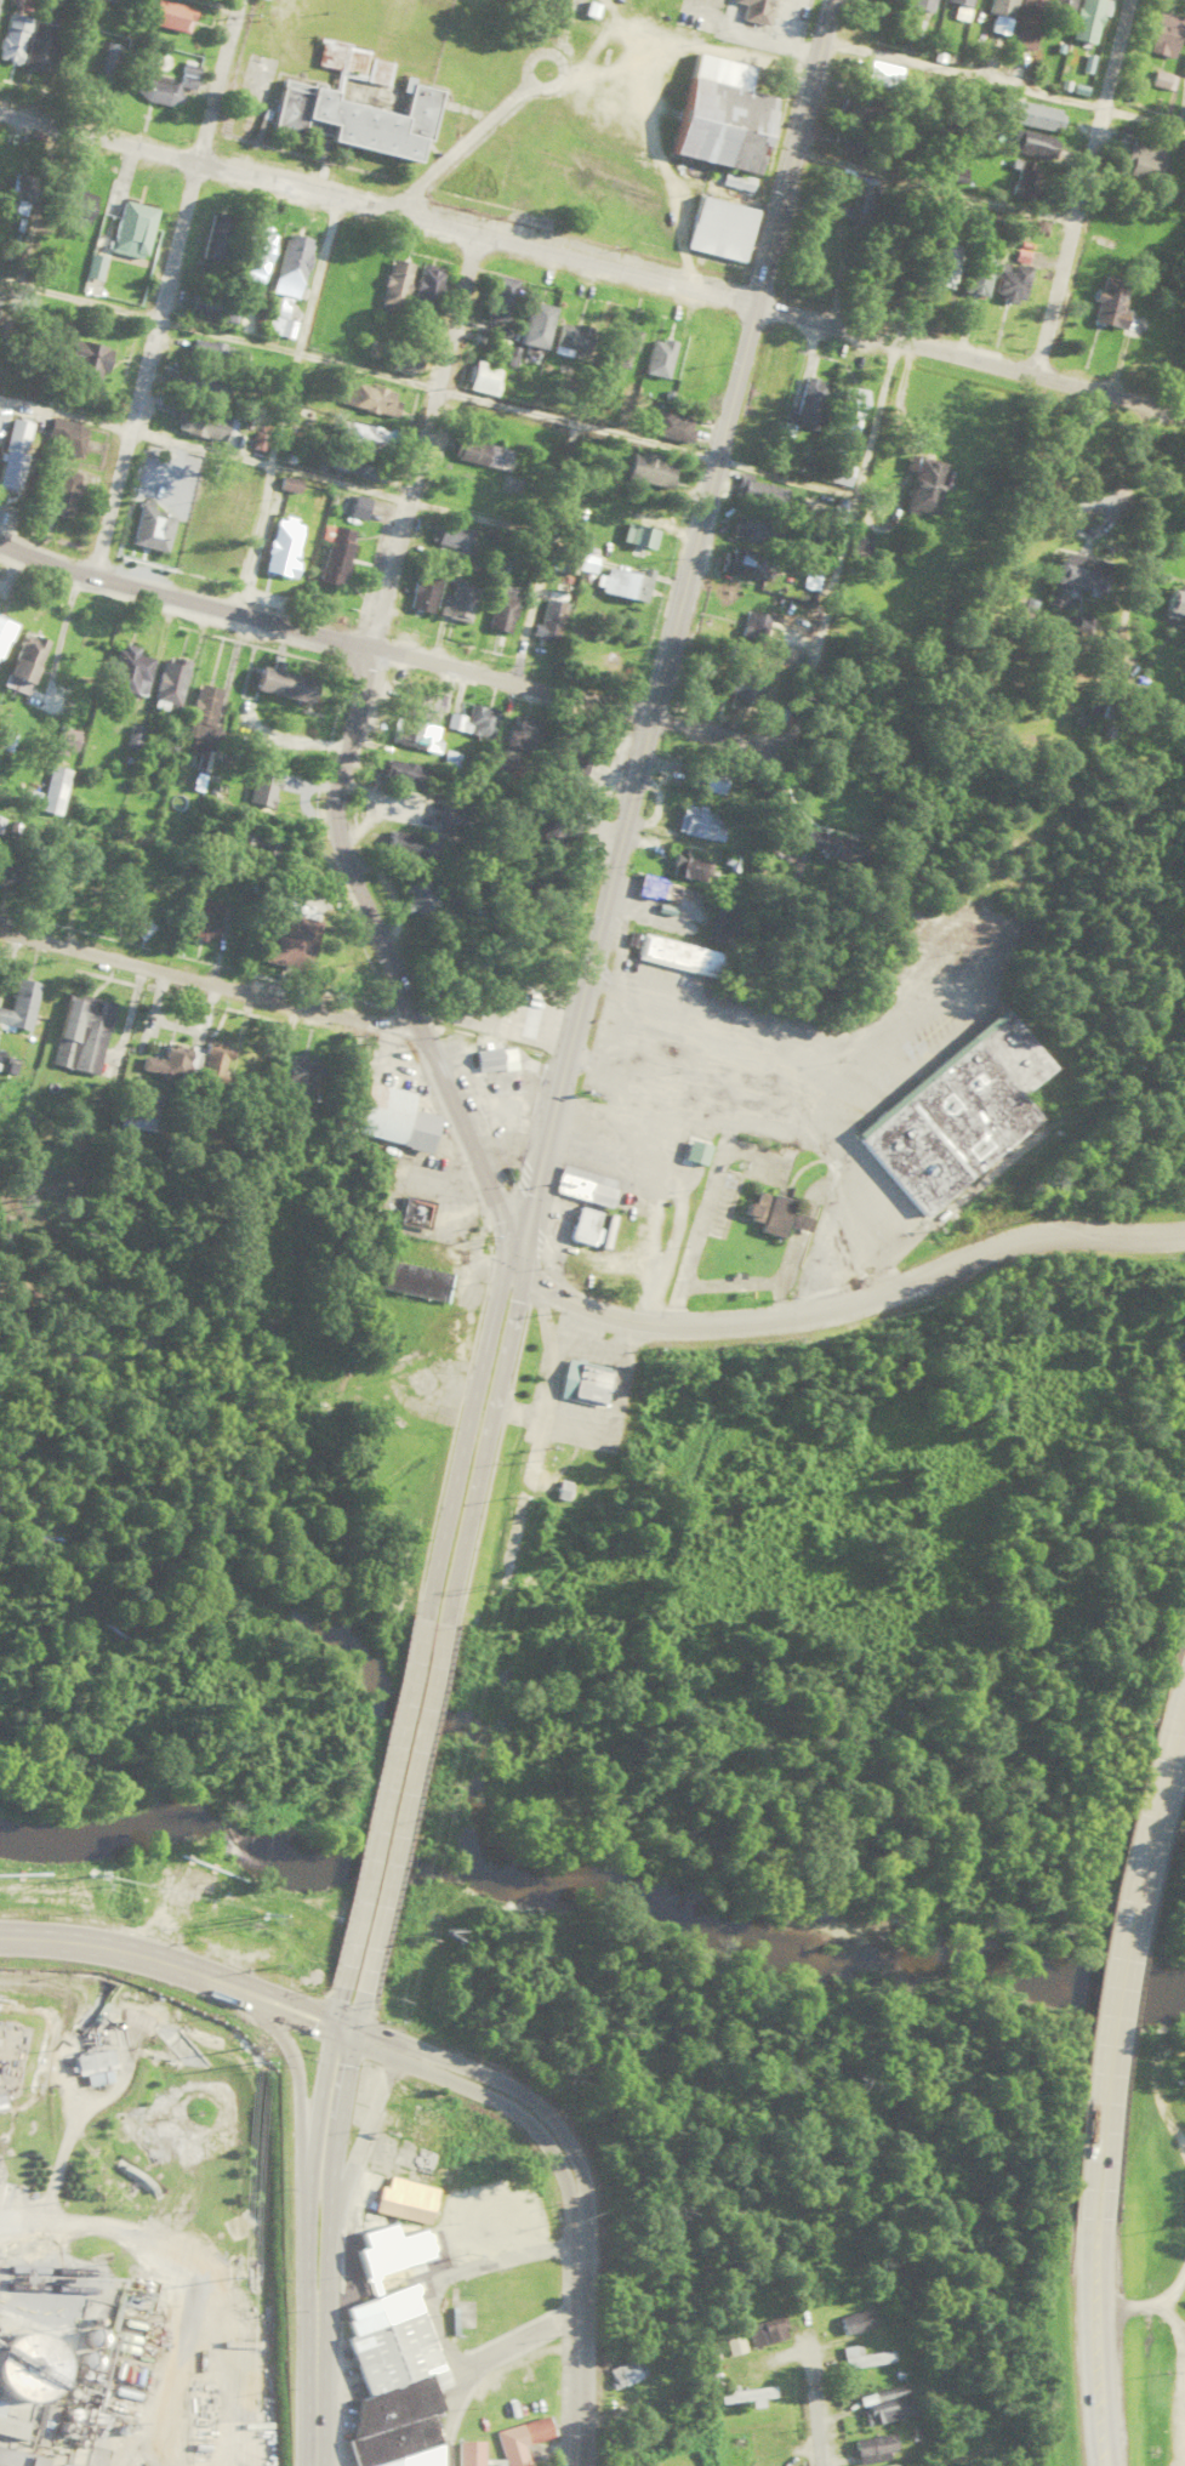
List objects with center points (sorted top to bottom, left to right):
road: (212, 5)
road: (581, 68)
road: (1141, 123)
road: (1079, 187)
road: (378, 206)
road: (25, 232)
road: (161, 286)
road: (970, 358)
road: (357, 370)
road: (284, 403)
road: (272, 468)
road: (542, 553)
road: (826, 610)
road: (676, 620)
road: (323, 633)
road: (341, 750)
road: (209, 981)
road: (843, 1298)
road: (473, 1409)
road: (489, 1411)
road: (1179, 1719)
road: (382, 1801)
road: (403, 1805)
road: (1123, 1942)
road: (116, 1949)
road: (280, 2004)
road: (342, 2026)
road: (295, 2088)
road: (309, 2162)
road: (332, 2165)
road: (572, 2182)
road: (1095, 2183)
road: (136, 2238)
railway: (50, 2271)
road: (445, 2271)
railway: (49, 2286)
road: (1093, 2293)
road: (315, 2384)
road: (1098, 2416)
road: (813, 2427)

